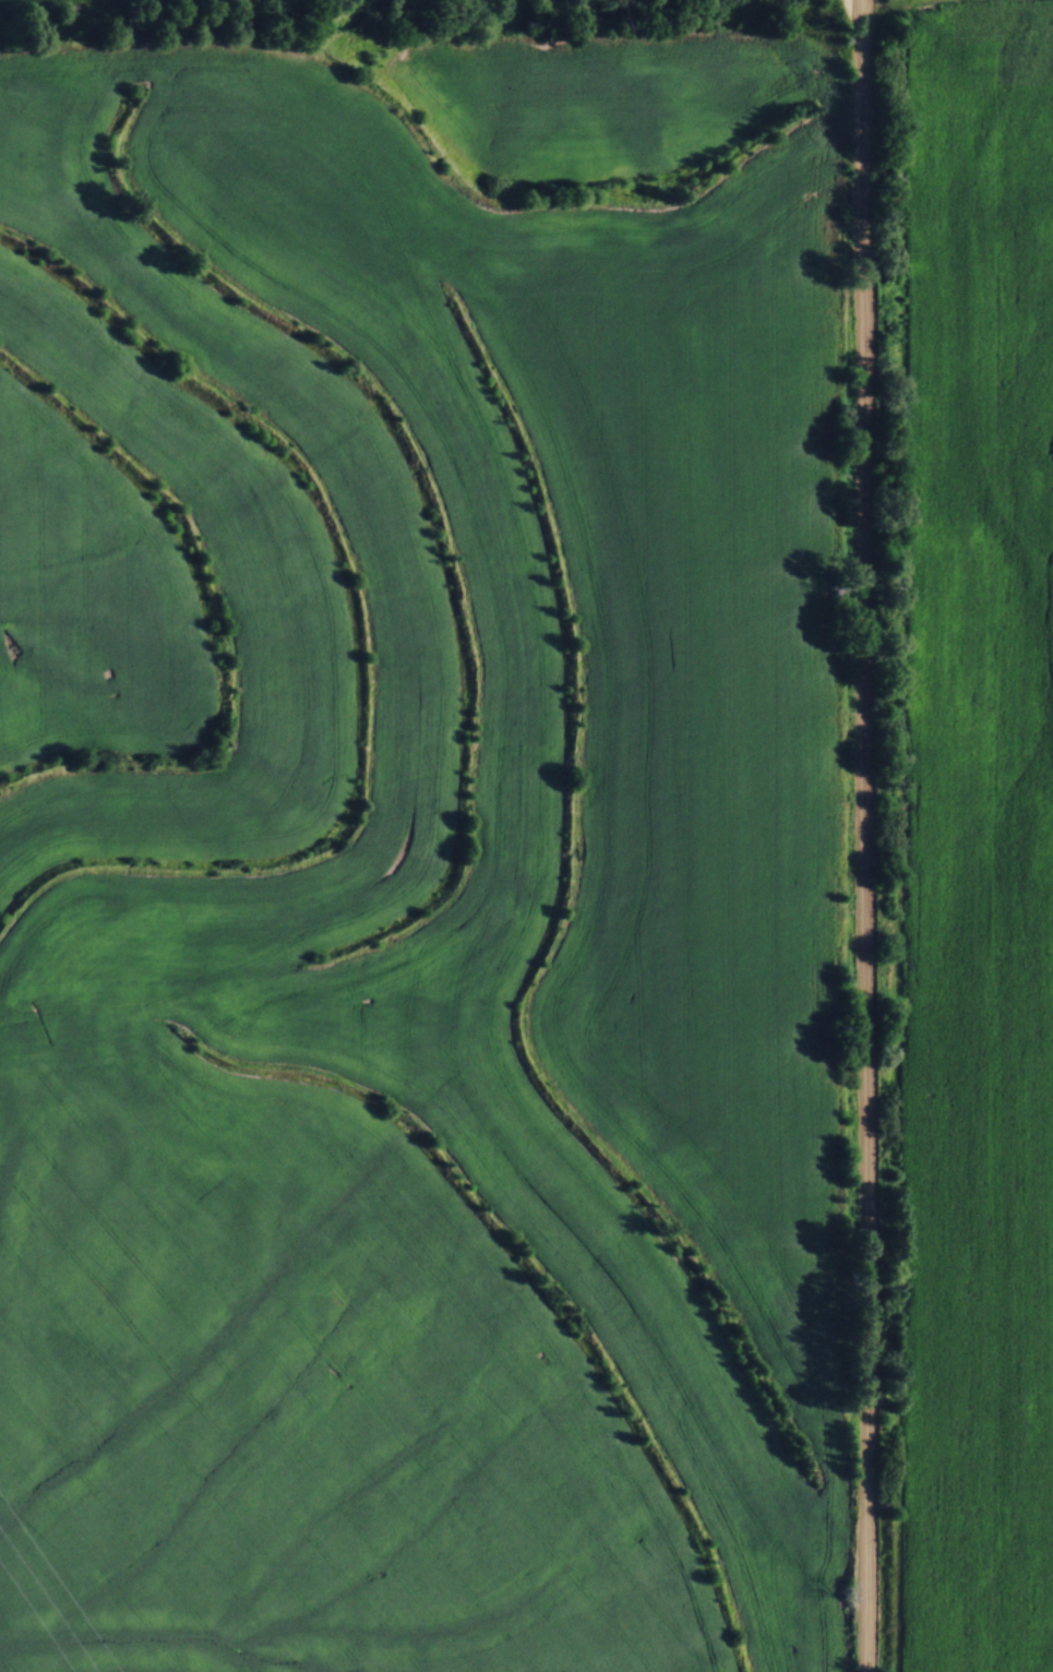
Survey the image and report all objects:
road: (866, 836)

